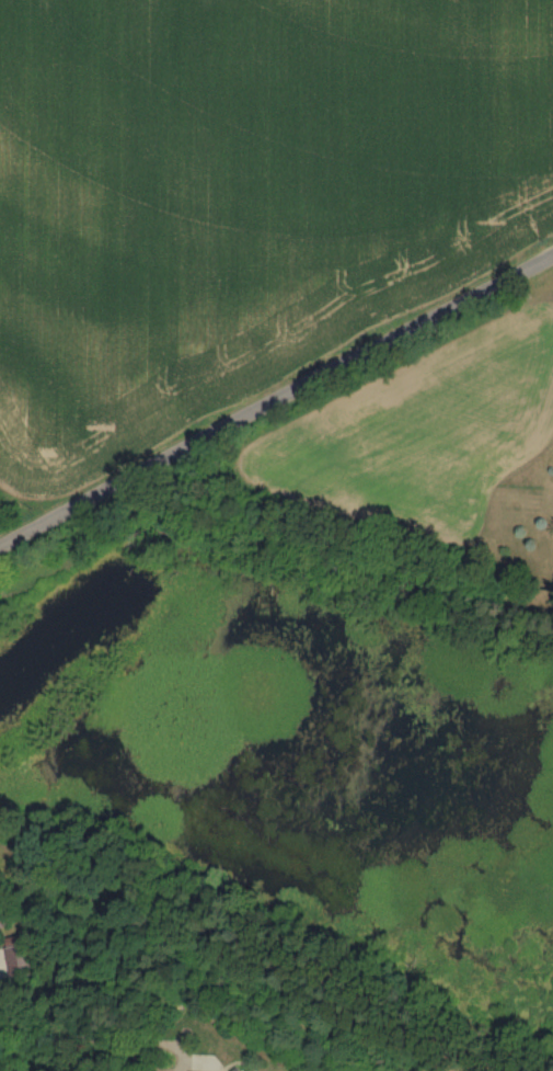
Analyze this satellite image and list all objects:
road: (275, 397)
building: (3, 916)
building: (21, 958)
road: (57, 1028)
road: (158, 1042)
road: (128, 1055)
building: (194, 1070)

